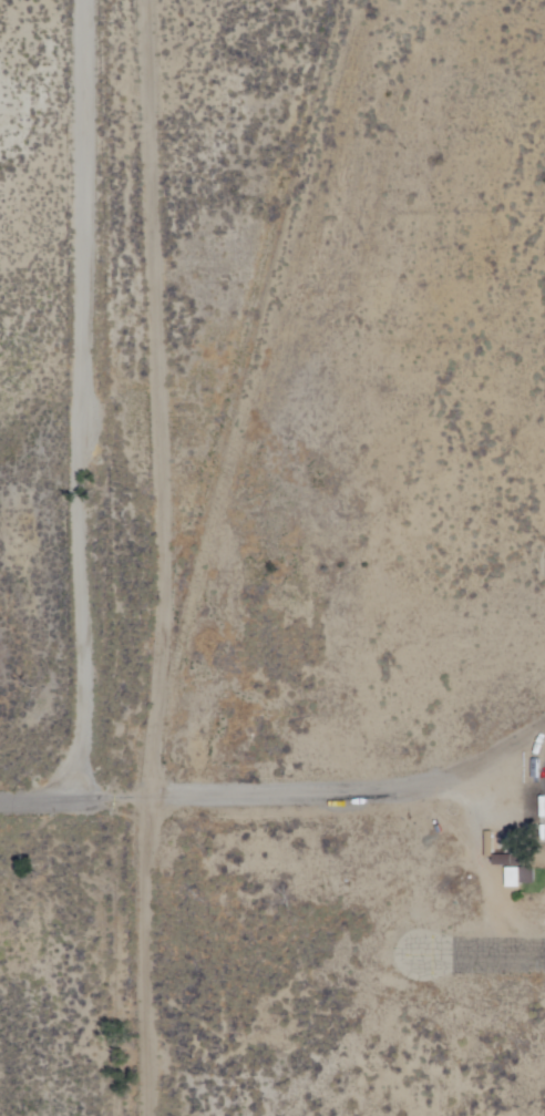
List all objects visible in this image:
road: (78, 400)
airport: (330, 553)
road: (174, 557)
road: (31, 799)
road: (204, 799)
airport taxiway: (497, 954)

